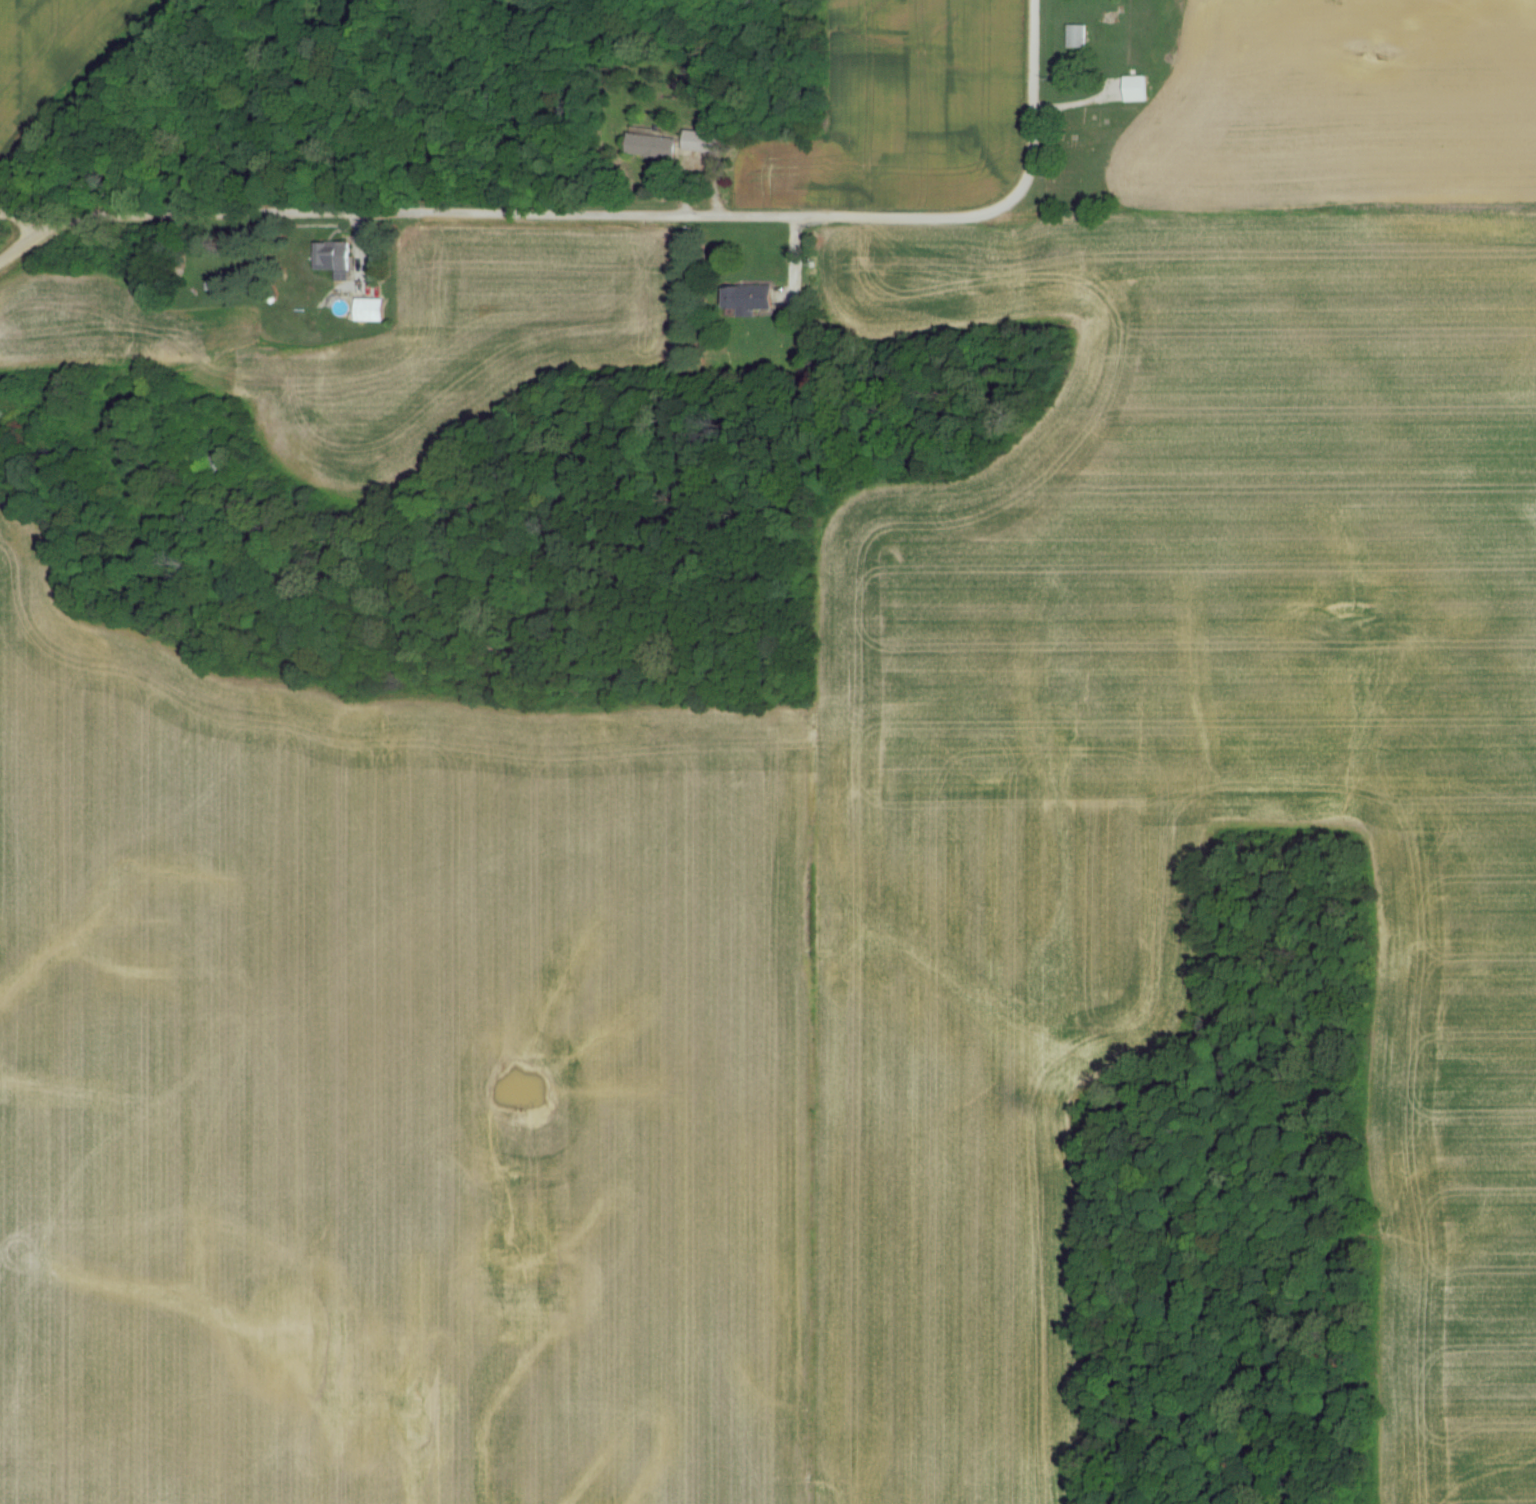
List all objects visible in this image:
building: (1078, 38)
building: (1136, 90)
building: (701, 142)
building: (654, 147)
road: (999, 202)
road: (390, 211)
building: (336, 259)
road: (791, 271)
building: (752, 300)
building: (372, 312)
building: (219, 465)

